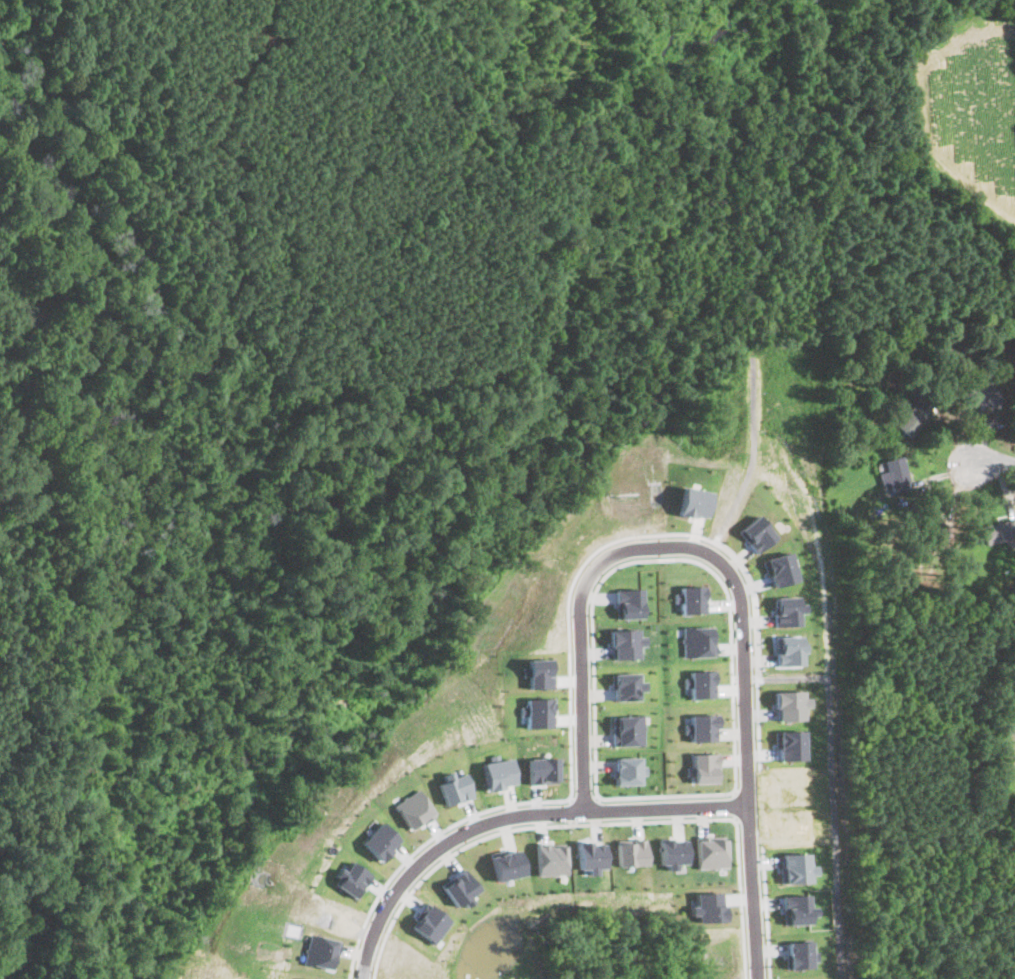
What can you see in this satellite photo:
building: (981, 394)
building: (913, 418)
road: (996, 460)
building: (893, 475)
building: (694, 502)
building: (925, 525)
building: (998, 530)
building: (755, 532)
road: (655, 548)
building: (783, 557)
building: (687, 586)
building: (627, 603)
building: (788, 605)
building: (696, 630)
building: (789, 641)
building: (624, 643)
road: (591, 655)
building: (698, 673)
building: (625, 686)
building: (789, 693)
building: (701, 716)
building: (628, 730)
building: (792, 734)
building: (703, 757)
building: (629, 770)
building: (497, 772)
building: (454, 788)
road: (735, 789)
road: (711, 793)
road: (738, 803)
building: (412, 808)
road: (512, 816)
road: (571, 824)
building: (632, 851)
building: (712, 851)
building: (673, 852)
building: (590, 855)
building: (551, 858)
building: (507, 864)
building: (797, 867)
building: (350, 878)
building: (459, 887)
road: (754, 890)
road: (740, 898)
building: (707, 906)
building: (797, 909)
building: (429, 923)
road: (361, 926)
building: (319, 951)
building: (801, 953)
road: (768, 956)
building: (303, 978)

